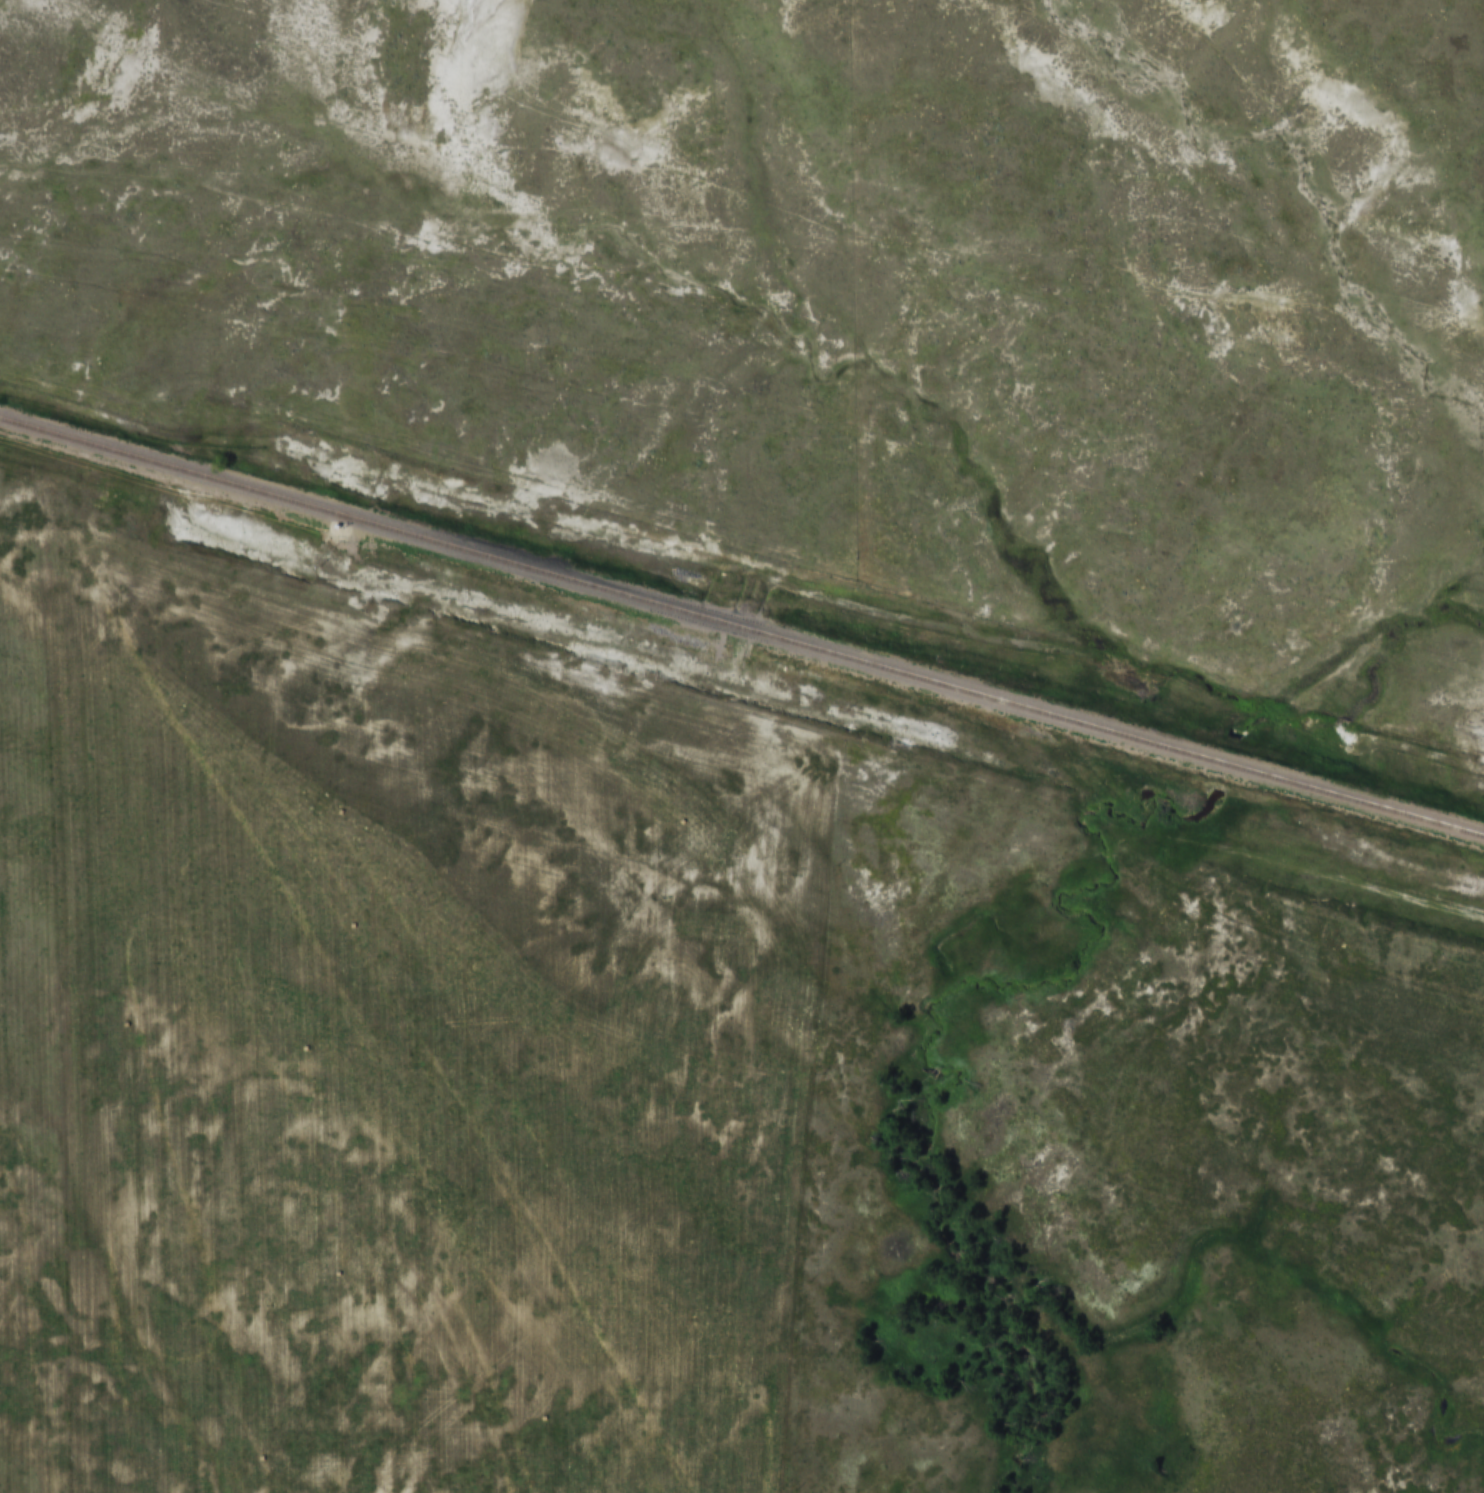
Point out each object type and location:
railway: (741, 644)

